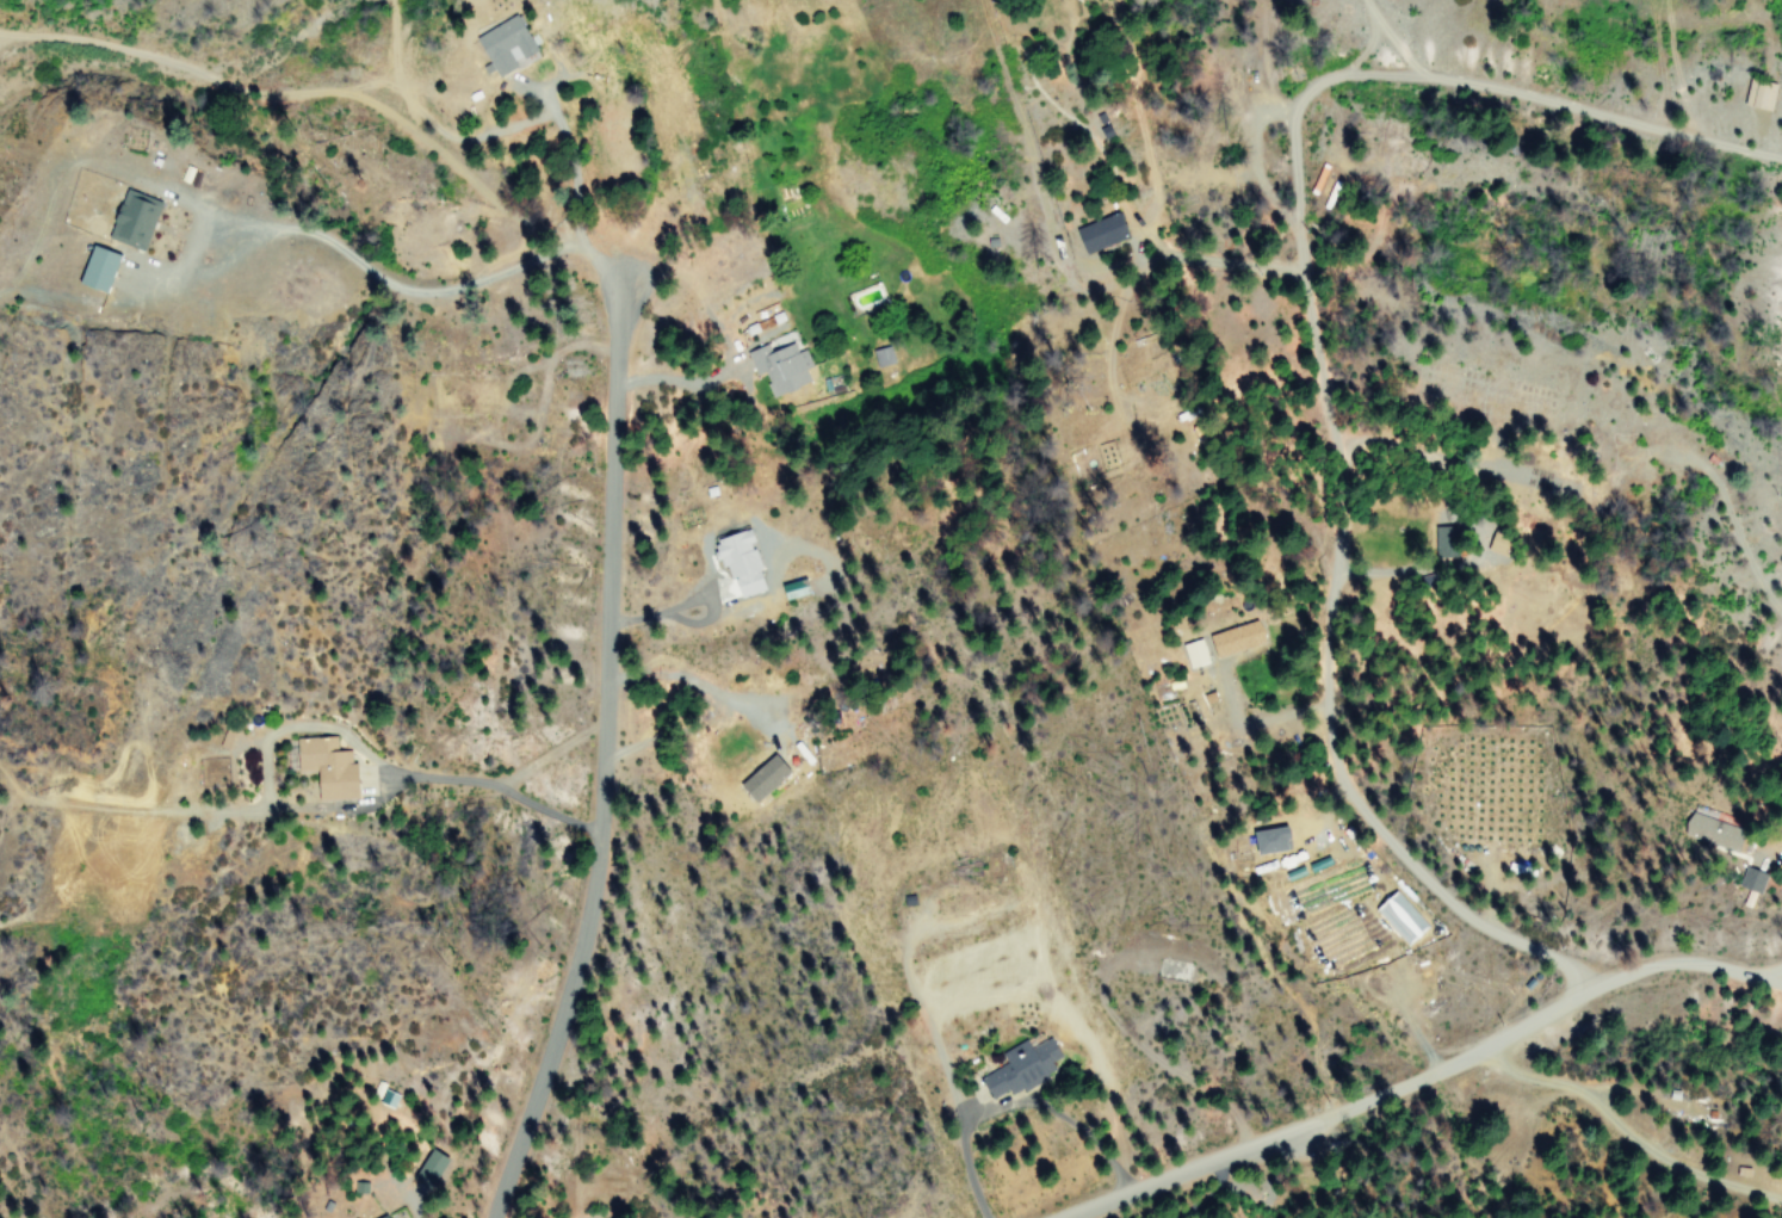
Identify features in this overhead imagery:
building: (507, 44)
road: (315, 92)
building: (1765, 98)
road: (571, 180)
building: (136, 220)
building: (1103, 233)
building: (101, 270)
road: (1316, 354)
building: (884, 357)
building: (782, 367)
building: (735, 561)
building: (1232, 637)
building: (1192, 653)
road: (728, 697)
road: (335, 730)
road: (550, 752)
road: (601, 758)
building: (322, 766)
building: (760, 777)
building: (1695, 829)
building: (1749, 879)
building: (1398, 916)
road: (1675, 962)
road: (1768, 971)
building: (1016, 1064)
road: (1449, 1064)
building: (425, 1168)
road: (1188, 1168)
building: (380, 1217)

